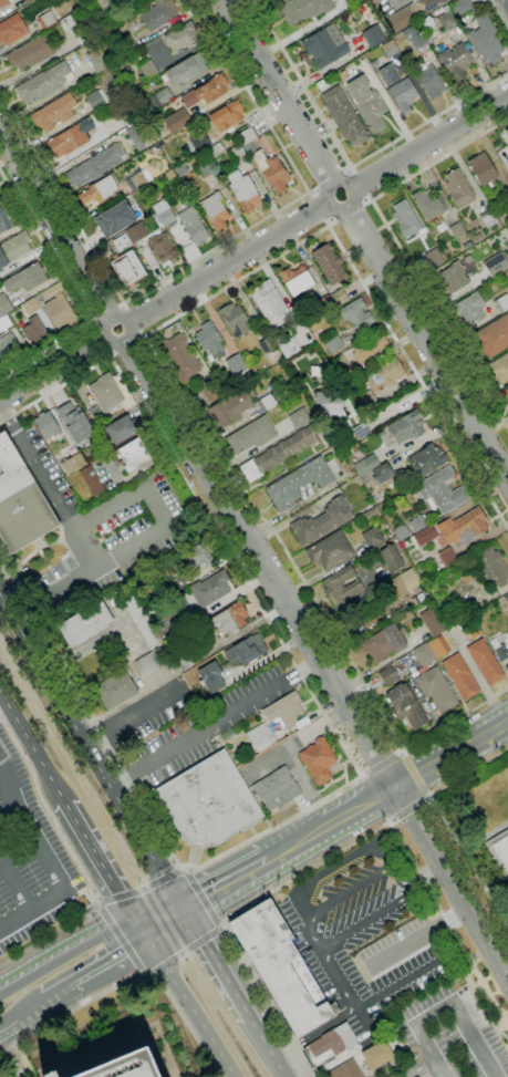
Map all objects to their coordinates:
building: (28, 1)
building: (4, 2)
building: (460, 7)
building: (304, 10)
building: (412, 12)
building: (159, 14)
road: (498, 14)
building: (446, 19)
building: (46, 20)
building: (72, 20)
building: (12, 29)
building: (182, 37)
building: (373, 37)
building: (486, 40)
building: (127, 44)
building: (413, 44)
building: (324, 46)
building: (388, 49)
building: (32, 52)
building: (97, 60)
building: (456, 63)
building: (190, 68)
building: (148, 69)
building: (388, 74)
building: (431, 82)
building: (44, 83)
building: (211, 90)
road: (278, 90)
building: (403, 95)
building: (160, 97)
building: (96, 99)
building: (367, 103)
building: (54, 112)
building: (227, 115)
building: (344, 117)
building: (176, 121)
building: (506, 134)
building: (139, 136)
building: (70, 138)
building: (247, 139)
road: (427, 142)
building: (200, 143)
building: (216, 151)
building: (237, 152)
road: (438, 157)
road: (348, 162)
building: (96, 165)
building: (206, 169)
road: (348, 169)
building: (481, 169)
building: (180, 170)
building: (271, 172)
building: (141, 178)
road: (330, 182)
road: (333, 183)
road: (353, 186)
building: (458, 188)
building: (99, 190)
building: (243, 190)
road: (311, 190)
building: (507, 190)
building: (0, 196)
road: (365, 200)
road: (322, 204)
road: (331, 204)
building: (427, 204)
road: (346, 209)
building: (215, 210)
building: (164, 213)
building: (406, 218)
building: (488, 218)
building: (4, 219)
building: (114, 219)
road: (330, 222)
building: (194, 225)
road: (54, 228)
building: (457, 230)
building: (135, 232)
building: (163, 248)
building: (13, 249)
road: (207, 251)
building: (433, 258)
road: (227, 261)
building: (329, 263)
building: (496, 265)
building: (128, 268)
building: (452, 277)
building: (25, 278)
building: (297, 280)
building: (53, 290)
road: (71, 292)
building: (339, 298)
building: (501, 302)
building: (326, 303)
building: (4, 304)
road: (122, 304)
building: (270, 304)
building: (31, 307)
building: (469, 309)
building: (61, 312)
road: (107, 314)
building: (355, 315)
road: (438, 315)
building: (236, 320)
road: (128, 321)
building: (4, 322)
road: (92, 323)
building: (34, 329)
road: (141, 335)
road: (103, 336)
building: (208, 338)
building: (493, 338)
road: (108, 339)
road: (426, 342)
building: (332, 343)
road: (124, 344)
building: (266, 344)
building: (8, 345)
building: (369, 346)
building: (289, 348)
road: (111, 355)
road: (154, 355)
building: (180, 356)
building: (236, 364)
road: (53, 369)
building: (500, 369)
building: (388, 371)
road: (77, 376)
building: (208, 389)
building: (506, 392)
building: (105, 393)
building: (366, 401)
building: (266, 403)
building: (326, 403)
building: (230, 407)
building: (97, 416)
building: (299, 417)
building: (73, 422)
building: (46, 425)
building: (406, 426)
building: (123, 428)
building: (250, 436)
building: (135, 454)
building: (277, 454)
building: (426, 459)
building: (73, 464)
building: (366, 465)
road: (38, 466)
building: (383, 474)
building: (93, 483)
building: (299, 483)
building: (440, 491)
building: (20, 501)
road: (163, 505)
building: (371, 515)
building: (320, 522)
building: (418, 522)
building: (463, 527)
building: (401, 532)
building: (424, 536)
building: (372, 538)
road: (89, 549)
building: (330, 551)
building: (199, 556)
building: (447, 557)
building: (391, 558)
building: (491, 567)
building: (447, 576)
building: (404, 583)
building: (341, 586)
building: (210, 589)
road: (58, 597)
building: (506, 598)
building: (417, 599)
building: (467, 608)
building: (168, 617)
building: (404, 618)
building: (143, 621)
building: (433, 621)
building: (85, 624)
building: (470, 630)
building: (214, 632)
building: (384, 643)
building: (438, 646)
building: (499, 649)
building: (247, 650)
building: (424, 654)
road: (318, 655)
building: (151, 662)
building: (485, 662)
road: (293, 674)
building: (387, 676)
building: (460, 676)
building: (210, 677)
road: (479, 682)
building: (115, 690)
building: (436, 690)
road: (3, 706)
building: (405, 706)
building: (283, 711)
road: (133, 715)
building: (227, 735)
building: (260, 737)
road: (189, 738)
road: (32, 747)
railway: (66, 747)
road: (400, 752)
road: (90, 753)
building: (318, 760)
road: (382, 763)
railway: (65, 764)
road: (362, 774)
road: (412, 775)
building: (276, 789)
road: (387, 791)
road: (426, 797)
building: (208, 801)
road: (408, 808)
road: (390, 820)
road: (444, 825)
railway: (110, 830)
building: (499, 851)
road: (221, 856)
road: (329, 856)
parking lot: (30, 859)
road: (77, 861)
road: (100, 861)
road: (348, 862)
road: (52, 863)
road: (421, 873)
road: (15, 883)
road: (224, 883)
road: (143, 891)
road: (350, 893)
road: (203, 900)
road: (300, 907)
traffic signals: (183, 909)
road: (157, 910)
road: (382, 913)
traffic signals: (135, 920)
road: (166, 925)
road: (142, 930)
road: (315, 934)
road: (121, 938)
traffic signals: (148, 940)
road: (65, 951)
road: (185, 951)
road: (108, 961)
road: (219, 966)
building: (282, 967)
railway: (199, 969)
railway: (191, 975)
road: (128, 980)
road: (400, 984)
road: (346, 990)
road: (58, 992)
road: (190, 1008)
road: (21, 1012)
road: (314, 1032)
building: (330, 1046)
road: (270, 1050)
building: (377, 1055)
road: (422, 1065)
building: (125, 1066)
building: (345, 1070)
building: (51, 1075)

